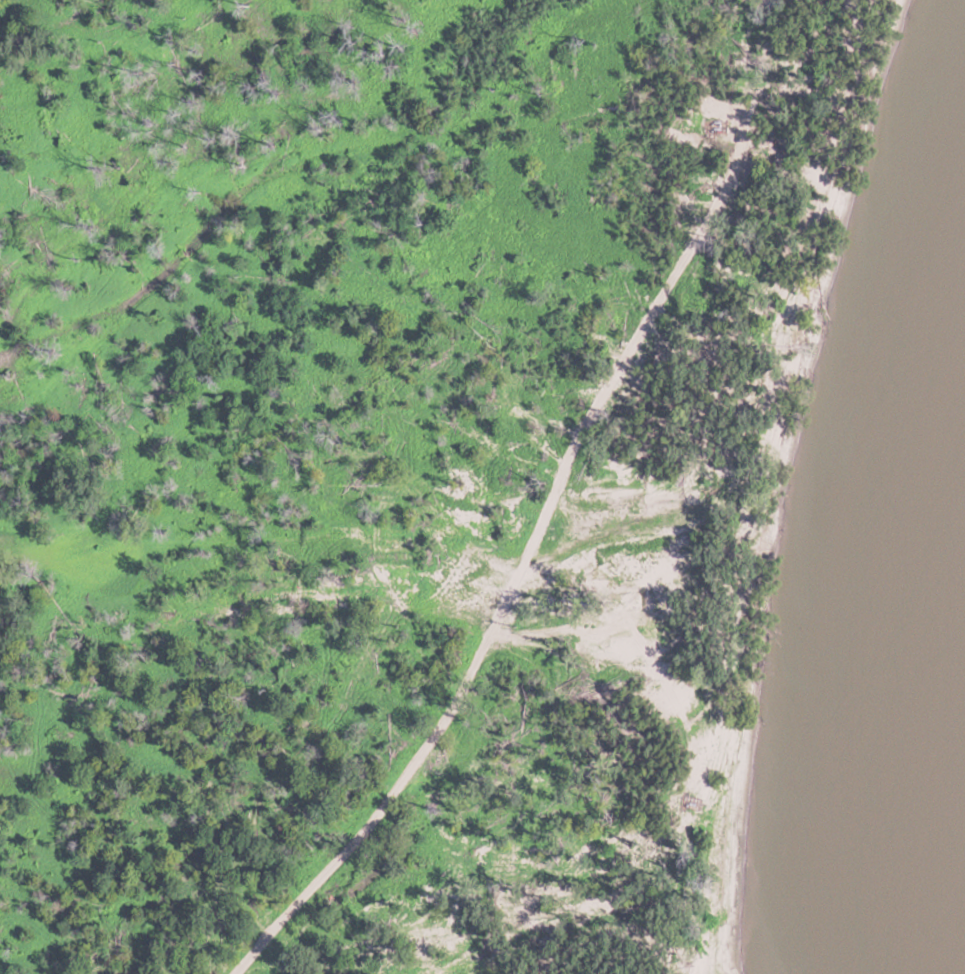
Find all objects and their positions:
road: (333, 900)

